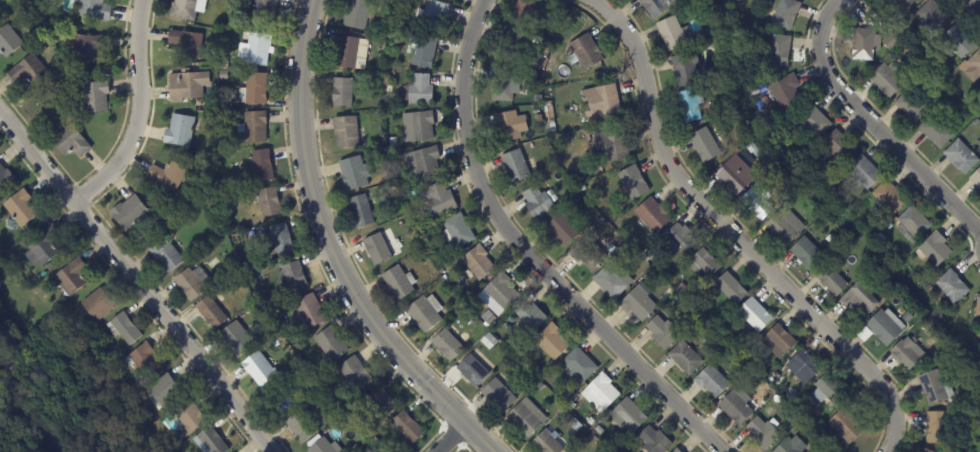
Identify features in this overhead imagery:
building: (902, 5)
building: (656, 6)
road: (973, 6)
building: (25, 7)
building: (35, 9)
building: (93, 9)
building: (187, 9)
building: (681, 10)
building: (264, 11)
building: (44, 12)
building: (523, 12)
building: (358, 13)
building: (786, 13)
building: (433, 14)
building: (932, 18)
building: (893, 24)
building: (58, 26)
building: (671, 33)
building: (552, 35)
building: (8, 41)
building: (890, 41)
building: (718, 42)
building: (957, 42)
building: (185, 43)
building: (864, 44)
building: (548, 45)
building: (515, 46)
building: (84, 47)
building: (254, 50)
building: (382, 50)
building: (777, 50)
building: (421, 51)
building: (584, 52)
building: (350, 53)
building: (544, 55)
building: (974, 67)
building: (685, 69)
building: (27, 71)
building: (77, 72)
building: (222, 75)
building: (596, 75)
building: (389, 81)
building: (886, 81)
building: (501, 85)
building: (186, 86)
building: (253, 89)
building: (418, 90)
building: (341, 92)
building: (754, 92)
building: (785, 92)
building: (91, 97)
building: (764, 100)
building: (968, 100)
building: (197, 102)
building: (601, 102)
building: (689, 105)
building: (912, 107)
road: (142, 111)
building: (770, 115)
building: (539, 119)
building: (815, 120)
building: (976, 122)
road: (872, 125)
building: (506, 126)
building: (417, 127)
building: (221, 129)
building: (251, 129)
building: (178, 131)
building: (936, 131)
building: (345, 132)
building: (70, 142)
building: (392, 144)
building: (704, 145)
building: (610, 146)
building: (792, 146)
building: (839, 146)
building: (750, 147)
building: (757, 154)
building: (961, 156)
building: (424, 163)
building: (262, 165)
building: (515, 167)
building: (354, 173)
building: (863, 173)
building: (735, 175)
building: (167, 176)
building: (386, 176)
building: (5, 179)
building: (976, 179)
building: (633, 183)
building: (713, 183)
building: (391, 187)
building: (581, 189)
building: (832, 189)
building: (889, 197)
building: (438, 199)
building: (757, 202)
building: (269, 203)
building: (537, 203)
building: (160, 207)
building: (20, 209)
building: (361, 211)
building: (129, 213)
building: (652, 215)
building: (912, 225)
building: (784, 227)
building: (561, 230)
building: (457, 232)
road: (733, 237)
building: (279, 240)
building: (677, 240)
building: (832, 240)
building: (42, 248)
building: (377, 248)
building: (935, 249)
road: (331, 252)
building: (588, 253)
road: (530, 254)
building: (807, 254)
building: (648, 255)
building: (164, 256)
building: (477, 263)
building: (704, 264)
building: (231, 266)
building: (71, 278)
building: (293, 278)
building: (206, 280)
building: (612, 280)
building: (831, 280)
road: (133, 281)
building: (398, 283)
building: (189, 284)
building: (682, 287)
building: (928, 287)
building: (951, 288)
building: (731, 289)
building: (884, 291)
building: (497, 294)
building: (692, 297)
building: (859, 302)
building: (638, 303)
building: (97, 305)
building: (459, 306)
building: (978, 308)
building: (463, 311)
building: (900, 311)
building: (209, 312)
building: (309, 312)
building: (422, 315)
building: (530, 316)
building: (754, 317)
building: (907, 318)
building: (490, 321)
building: (882, 328)
building: (123, 329)
building: (662, 333)
building: (236, 340)
building: (779, 341)
building: (488, 342)
building: (550, 343)
building: (330, 344)
building: (446, 346)
building: (516, 347)
building: (533, 352)
building: (905, 354)
building: (685, 358)
building: (933, 358)
building: (142, 361)
building: (513, 361)
building: (804, 365)
building: (578, 366)
building: (297, 368)
building: (259, 369)
building: (743, 369)
building: (542, 370)
building: (472, 371)
building: (502, 373)
building: (355, 375)
building: (711, 382)
building: (323, 383)
building: (934, 388)
building: (139, 391)
building: (163, 391)
building: (828, 391)
building: (567, 393)
building: (600, 394)
building: (497, 396)
building: (322, 398)
building: (280, 399)
building: (575, 401)
building: (382, 403)
building: (810, 403)
building: (342, 404)
building: (571, 406)
building: (735, 409)
building: (627, 416)
building: (187, 420)
building: (523, 420)
building: (590, 422)
building: (575, 426)
building: (846, 426)
building: (301, 427)
building: (407, 428)
building: (937, 428)
building: (599, 430)
building: (822, 430)
building: (592, 431)
building: (762, 434)
building: (597, 436)
road: (456, 439)
building: (210, 441)
building: (653, 441)
building: (545, 444)
building: (321, 446)
building: (791, 446)
building: (601, 449)
building: (676, 451)
building: (829, 451)
building: (924, 451)

